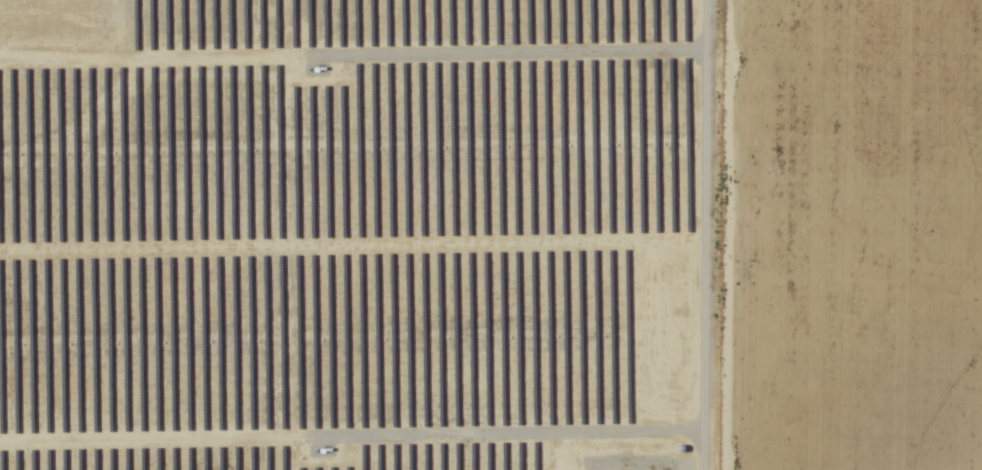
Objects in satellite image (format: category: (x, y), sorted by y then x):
solar farm: (365, 234)
road: (713, 235)
crop: (856, 235)

